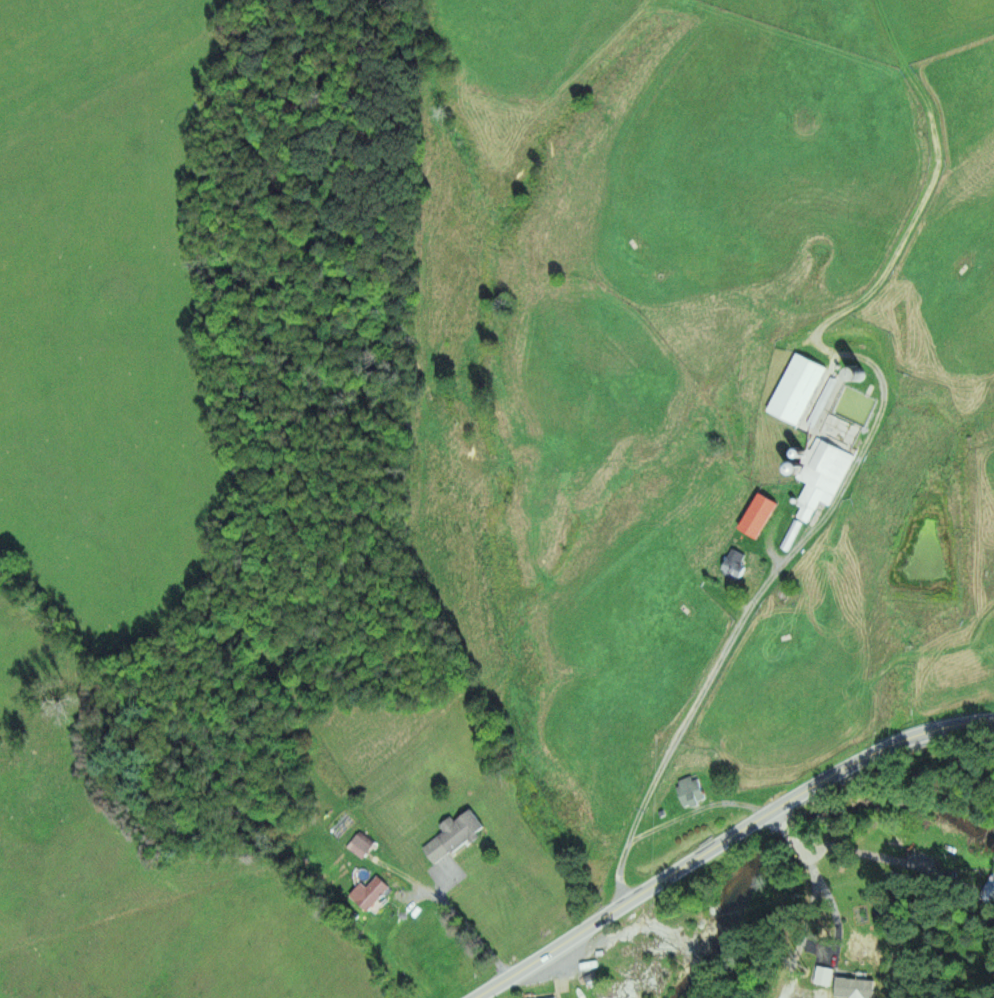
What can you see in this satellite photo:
building: (798, 390)
building: (821, 452)
building: (758, 516)
building: (735, 563)
road: (679, 731)
building: (689, 792)
building: (454, 836)
road: (742, 844)
road: (849, 891)
building: (989, 892)
building: (372, 894)
building: (863, 947)
building: (554, 997)

